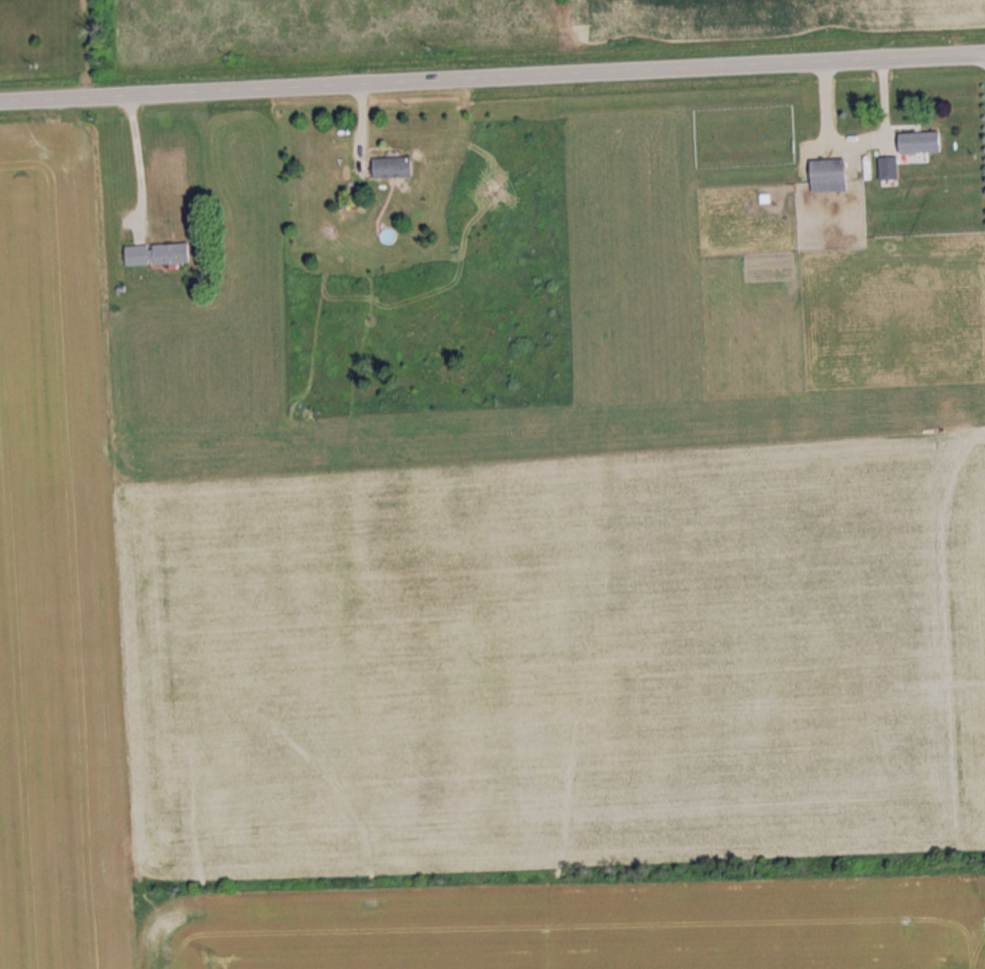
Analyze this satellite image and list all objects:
road: (492, 81)
building: (917, 141)
building: (388, 166)
building: (886, 167)
building: (825, 175)
building: (161, 254)

